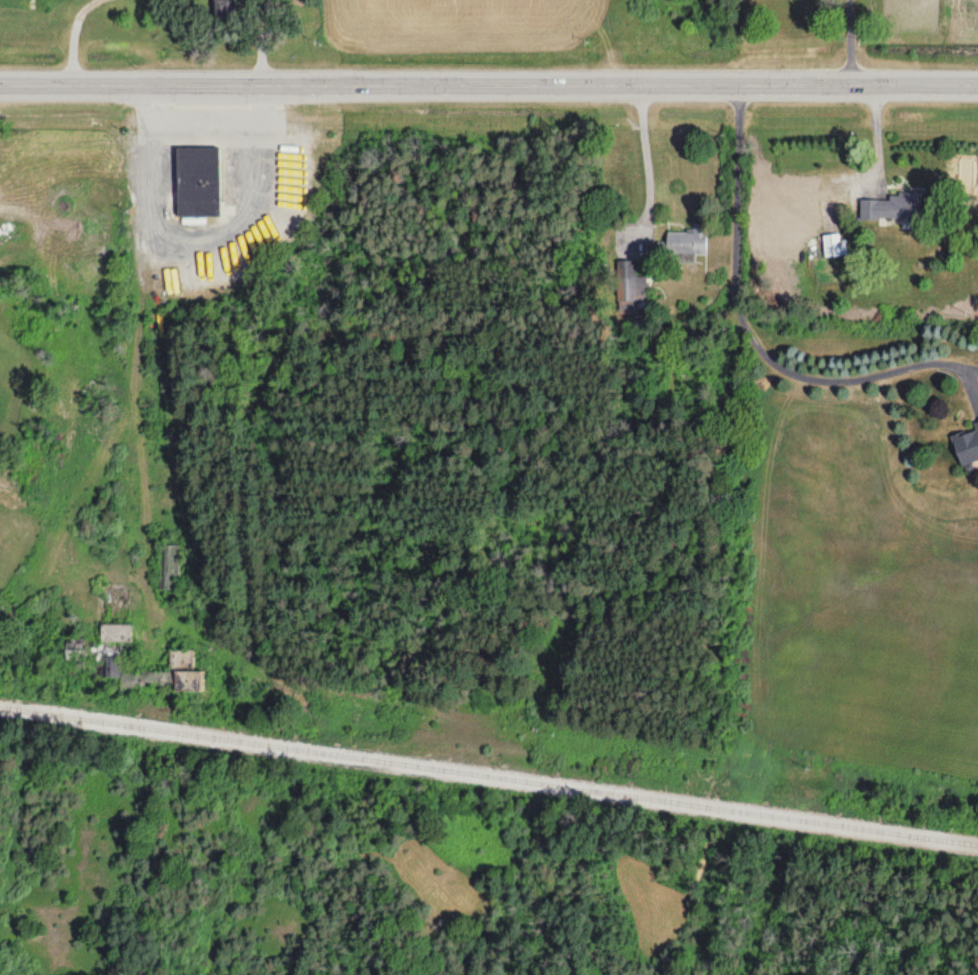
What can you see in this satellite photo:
building: (221, 7)
road: (488, 83)
building: (196, 170)
building: (888, 207)
building: (686, 242)
building: (630, 282)
building: (966, 445)
building: (77, 652)
building: (111, 658)
railway: (489, 765)

